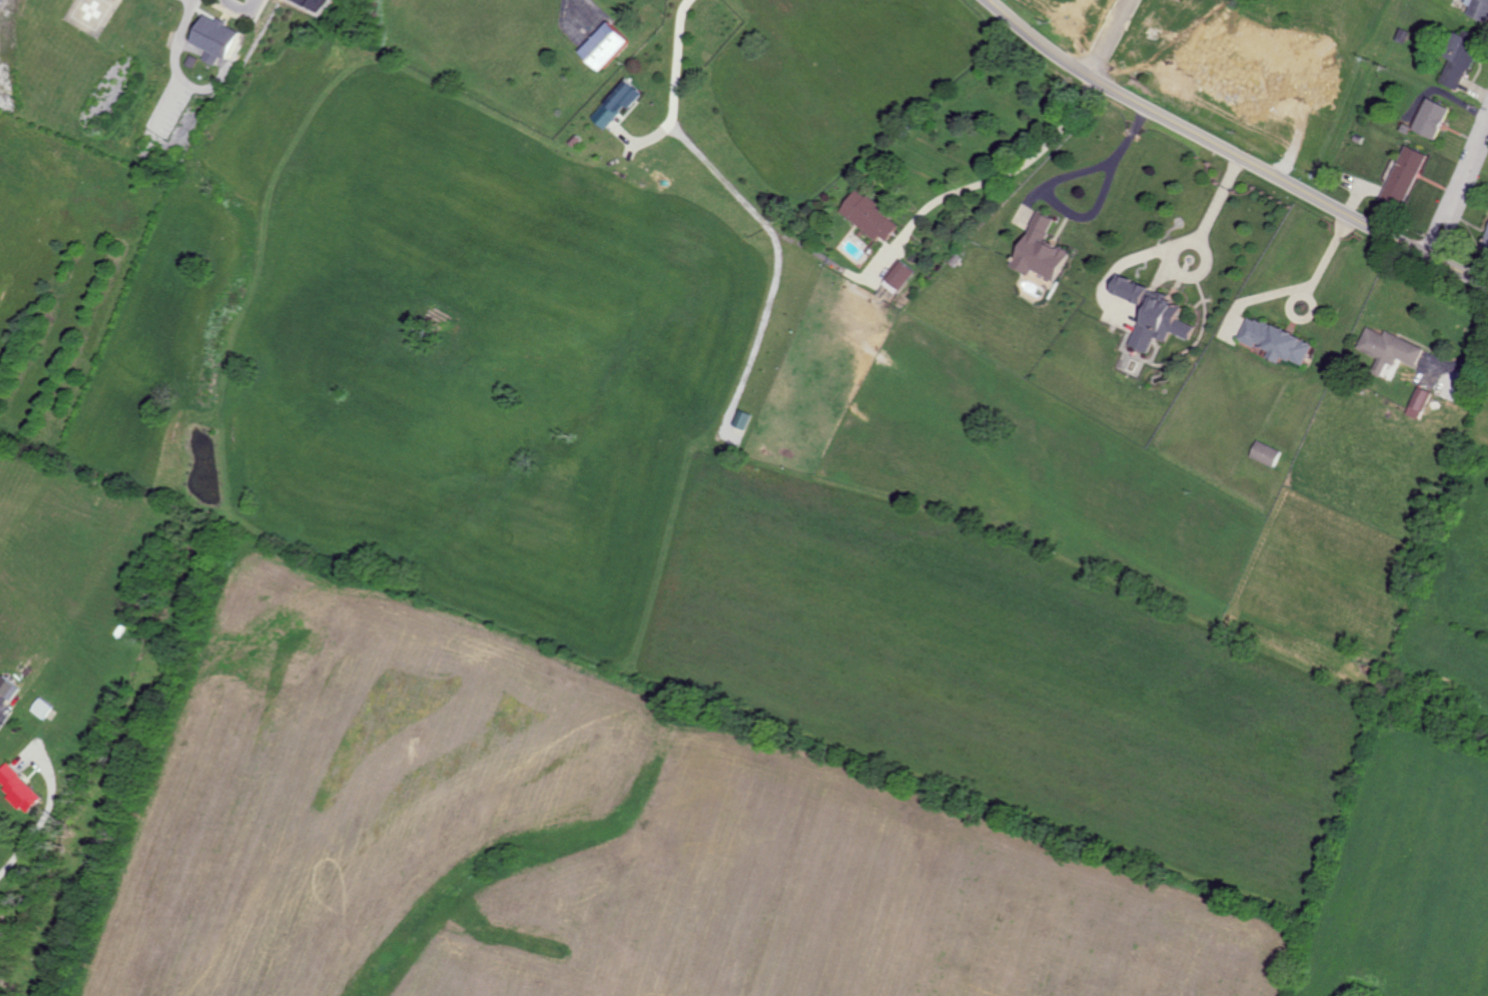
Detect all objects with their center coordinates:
road: (247, 6)
road: (580, 8)
helipad: (94, 9)
building: (1478, 9)
building: (220, 34)
road: (180, 38)
road: (1111, 38)
building: (604, 47)
building: (1459, 60)
road: (229, 68)
road: (674, 83)
road: (169, 104)
building: (617, 104)
building: (1432, 119)
road: (1230, 153)
road: (1054, 174)
road: (994, 175)
building: (1404, 176)
road: (1459, 190)
road: (1215, 198)
building: (868, 217)
building: (1487, 240)
road: (777, 245)
road: (1172, 249)
building: (1039, 250)
road: (1326, 255)
park: (61, 269)
building: (898, 277)
road: (1291, 299)
building: (1152, 315)
building: (1277, 342)
building: (1389, 348)
road: (1466, 354)
building: (1422, 398)
building: (741, 420)
building: (1265, 452)
building: (8, 687)
building: (43, 708)
building: (18, 788)
road: (44, 816)

